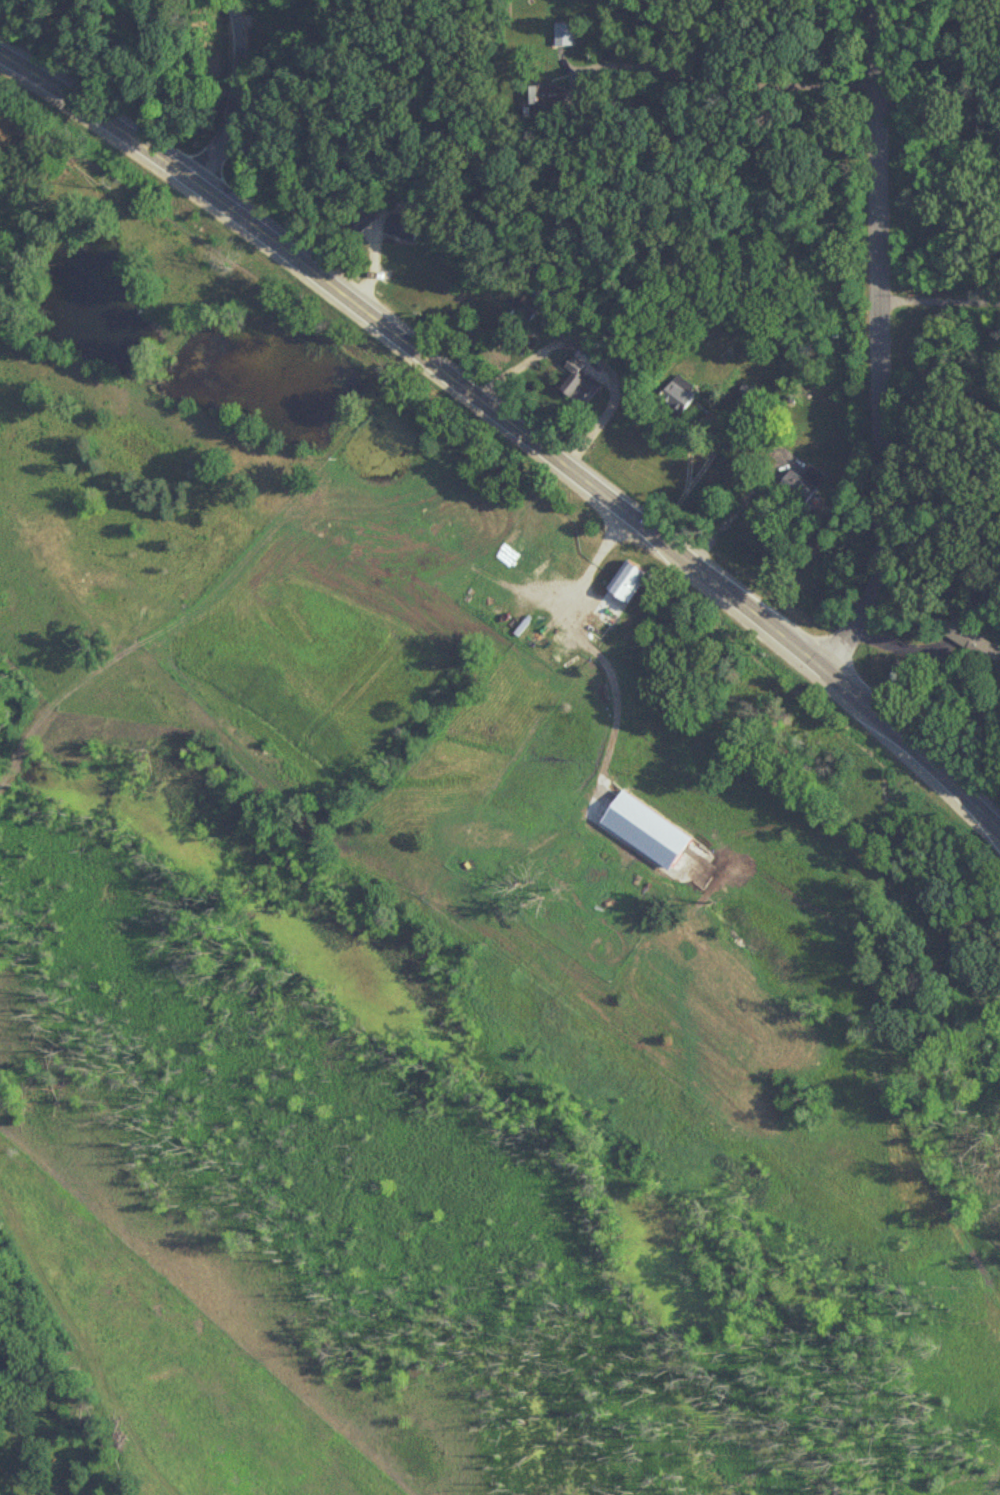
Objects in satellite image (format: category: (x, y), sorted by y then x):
building: (564, 34)
road: (726, 82)
building: (547, 93)
road: (233, 95)
building: (358, 220)
building: (398, 227)
road: (940, 300)
building: (526, 306)
road: (880, 343)
building: (577, 384)
building: (678, 394)
road: (514, 425)
road: (715, 446)
building: (799, 487)
building: (544, 539)
building: (531, 556)
building: (628, 581)
building: (971, 641)
park: (996, 964)

